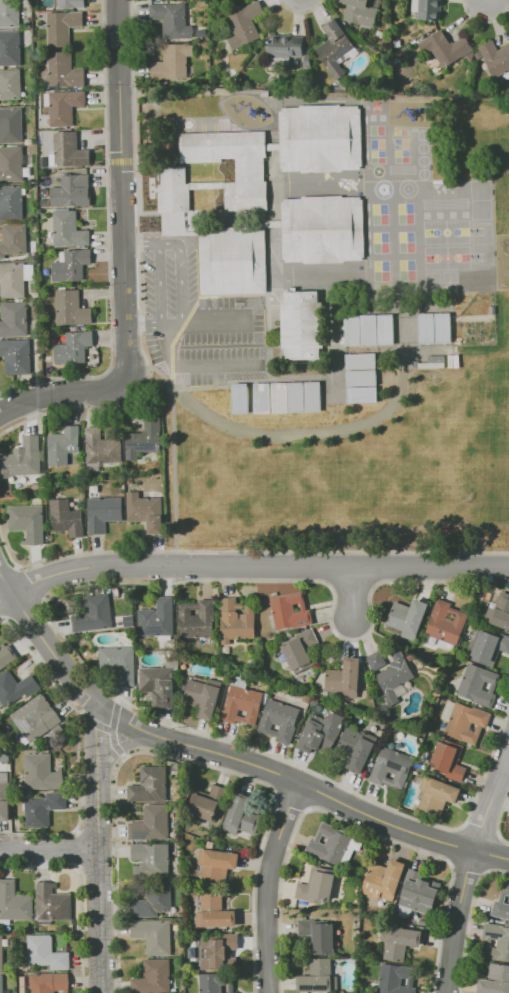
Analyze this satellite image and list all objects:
building: (71, 3)
building: (427, 9)
road: (299, 11)
building: (360, 12)
building: (9, 13)
building: (172, 19)
road: (485, 20)
building: (245, 24)
building: (62, 27)
building: (286, 46)
building: (446, 47)
building: (10, 48)
building: (336, 48)
building: (495, 58)
building: (173, 61)
building: (64, 70)
building: (10, 84)
park: (375, 105)
building: (64, 106)
road: (133, 115)
building: (11, 125)
park: (377, 129)
park: (401, 129)
park: (423, 134)
building: (320, 138)
park: (401, 142)
park: (378, 143)
park: (423, 147)
building: (69, 149)
park: (402, 156)
park: (378, 157)
park: (423, 160)
road: (120, 161)
building: (11, 164)
building: (250, 172)
park: (424, 173)
flagpole: (151, 181)
flagpole: (151, 188)
road: (123, 189)
building: (72, 191)
building: (173, 191)
flagpole: (151, 195)
park: (480, 199)
building: (11, 202)
park: (406, 212)
park: (380, 213)
building: (69, 229)
building: (323, 229)
park: (447, 232)
park: (482, 233)
building: (14, 240)
road: (107, 241)
park: (381, 241)
park: (406, 241)
road: (141, 244)
park: (482, 253)
park: (447, 257)
building: (233, 260)
building: (71, 264)
park: (407, 269)
park: (382, 270)
road: (182, 272)
park: (432, 276)
park: (450, 276)
building: (15, 278)
road: (159, 285)
park: (410, 285)
park: (379, 286)
park: (451, 286)
road: (198, 305)
building: (72, 309)
building: (14, 319)
parking lot: (198, 321)
road: (208, 323)
building: (303, 325)
road: (144, 326)
building: (434, 327)
building: (386, 329)
building: (353, 330)
building: (369, 330)
building: (73, 348)
building: (16, 356)
building: (361, 361)
road: (192, 369)
road: (159, 370)
building: (361, 377)
road: (143, 387)
building: (325, 388)
road: (61, 393)
building: (313, 396)
building: (337, 396)
building: (344, 396)
building: (296, 397)
building: (239, 398)
building: (262, 398)
building: (279, 398)
building: (325, 402)
building: (144, 439)
building: (64, 445)
building: (101, 449)
building: (25, 462)
building: (145, 511)
building: (103, 513)
building: (67, 518)
building: (28, 520)
road: (243, 551)
road: (256, 565)
road: (354, 593)
road: (5, 597)
building: (291, 610)
building: (500, 611)
building: (94, 614)
building: (410, 615)
building: (157, 618)
building: (198, 619)
building: (237, 620)
building: (446, 625)
building: (488, 647)
building: (301, 650)
building: (7, 655)
building: (120, 663)
building: (391, 673)
building: (345, 678)
building: (159, 684)
building: (479, 684)
building: (16, 687)
building: (203, 698)
building: (243, 705)
road: (113, 715)
building: (35, 720)
road: (94, 721)
building: (280, 721)
building: (467, 722)
building: (321, 732)
road: (96, 745)
road: (115, 745)
road: (124, 745)
building: (357, 749)
road: (227, 754)
building: (4, 756)
building: (448, 759)
road: (183, 760)
building: (392, 768)
building: (42, 772)
building: (150, 785)
building: (437, 795)
building: (5, 796)
road: (491, 800)
building: (207, 802)
road: (289, 802)
building: (43, 808)
building: (242, 816)
road: (497, 818)
building: (151, 823)
road: (350, 823)
building: (329, 844)
building: (351, 847)
road: (48, 848)
building: (152, 857)
building: (214, 865)
road: (466, 867)
building: (383, 880)
road: (266, 885)
building: (317, 885)
road: (98, 889)
building: (419, 892)
building: (501, 901)
building: (14, 902)
building: (154, 902)
building: (52, 904)
building: (214, 912)
road: (469, 919)
road: (457, 920)
building: (154, 935)
building: (319, 935)
building: (400, 941)
building: (503, 943)
building: (218, 951)
building: (46, 952)
building: (1, 953)
building: (154, 977)
building: (319, 977)
building: (395, 979)
building: (495, 980)
building: (49, 982)
building: (215, 982)
building: (2, 985)

